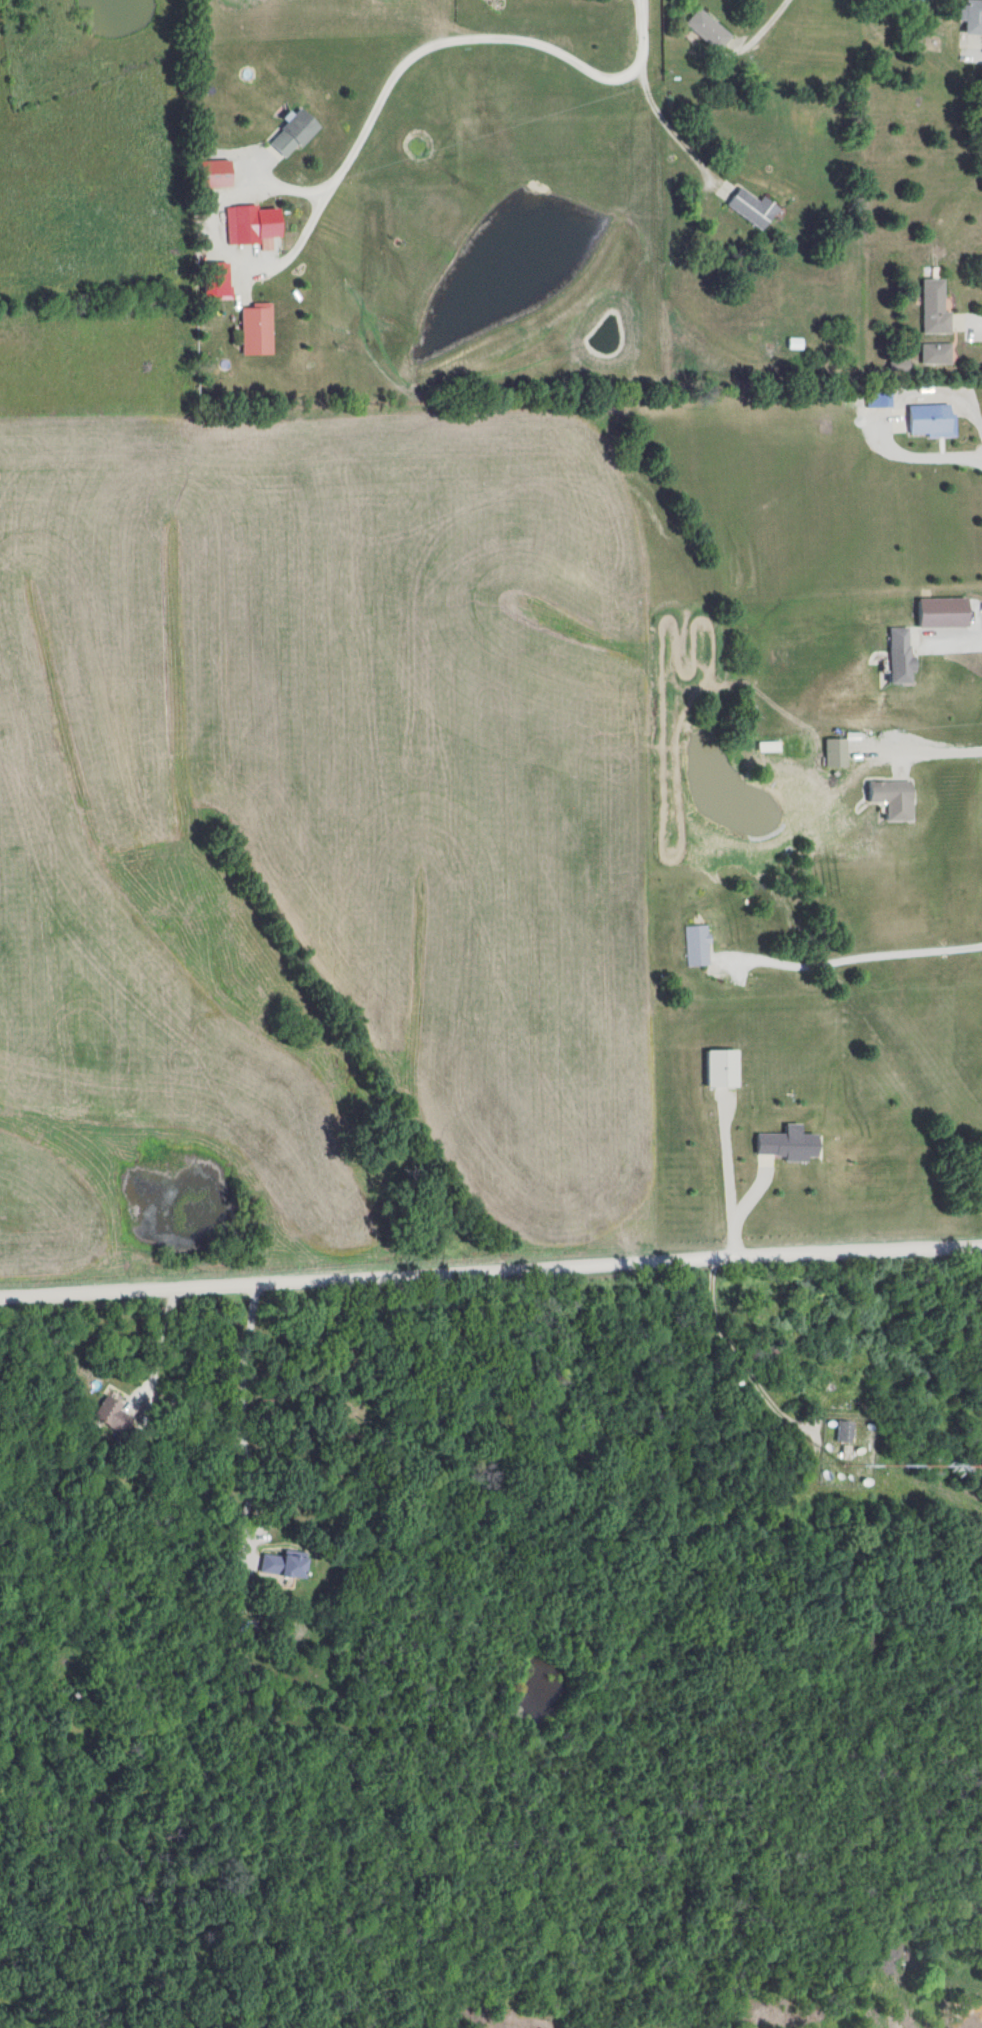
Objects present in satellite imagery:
building: (973, 17)
building: (710, 30)
road: (642, 54)
building: (296, 134)
road: (337, 177)
building: (754, 209)
building: (243, 226)
building: (936, 307)
building: (258, 329)
building: (937, 354)
building: (900, 365)
building: (933, 420)
building: (903, 656)
building: (896, 798)
building: (700, 945)
building: (724, 1069)
road: (491, 1275)
building: (113, 1415)
building: (846, 1432)
building: (285, 1565)

